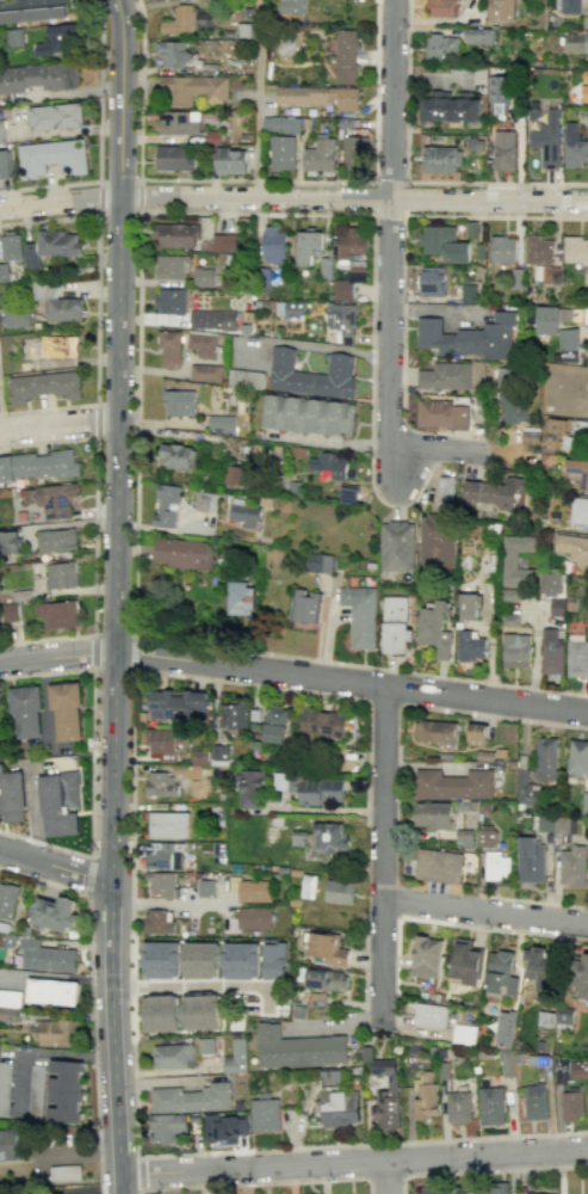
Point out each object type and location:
building: (291, 6)
building: (569, 6)
building: (441, 7)
building: (32, 10)
building: (501, 10)
building: (180, 20)
building: (478, 36)
building: (14, 37)
building: (60, 39)
building: (576, 41)
building: (439, 45)
building: (174, 54)
building: (346, 56)
building: (584, 75)
building: (37, 76)
building: (192, 90)
building: (584, 92)
building: (499, 94)
building: (318, 96)
road: (259, 99)
building: (448, 106)
building: (55, 116)
building: (178, 122)
building: (281, 123)
building: (1, 131)
building: (546, 139)
road: (99, 140)
building: (574, 146)
building: (503, 150)
building: (283, 152)
building: (353, 153)
building: (320, 154)
building: (51, 158)
building: (173, 158)
building: (439, 159)
building: (230, 160)
building: (5, 164)
road: (119, 180)
road: (255, 180)
road: (406, 181)
road: (140, 196)
road: (99, 198)
road: (355, 199)
road: (61, 202)
road: (117, 214)
road: (403, 215)
road: (402, 220)
building: (175, 235)
building: (435, 238)
building: (58, 242)
building: (224, 242)
building: (273, 245)
building: (10, 246)
building: (308, 246)
building: (502, 248)
building: (575, 250)
building: (456, 252)
building: (30, 254)
building: (541, 256)
building: (351, 259)
building: (172, 266)
building: (4, 272)
building: (203, 276)
building: (431, 281)
road: (391, 290)
building: (171, 301)
building: (56, 302)
road: (97, 307)
building: (289, 308)
building: (17, 318)
building: (212, 319)
building: (341, 321)
building: (556, 325)
building: (469, 337)
building: (202, 344)
building: (60, 346)
building: (169, 349)
building: (204, 373)
building: (311, 374)
building: (444, 376)
building: (245, 378)
building: (43, 386)
road: (370, 398)
building: (509, 398)
building: (178, 402)
building: (433, 412)
building: (308, 414)
building: (460, 417)
road: (95, 421)
building: (221, 423)
road: (60, 425)
road: (119, 441)
building: (174, 455)
building: (44, 464)
building: (329, 464)
building: (5, 468)
building: (577, 472)
building: (233, 474)
building: (493, 493)
building: (50, 499)
building: (205, 501)
building: (166, 505)
building: (245, 512)
building: (578, 512)
road: (93, 535)
road: (132, 537)
building: (55, 540)
building: (435, 541)
building: (8, 542)
building: (396, 546)
building: (574, 549)
building: (181, 553)
building: (509, 559)
building: (318, 562)
building: (60, 576)
building: (550, 581)
building: (19, 595)
building: (509, 595)
building: (239, 597)
building: (469, 604)
building: (305, 605)
building: (8, 611)
building: (56, 614)
building: (359, 615)
building: (510, 618)
building: (395, 624)
building: (434, 627)
road: (112, 634)
building: (471, 645)
building: (515, 650)
road: (93, 651)
building: (551, 651)
road: (130, 652)
building: (577, 657)
road: (111, 669)
road: (293, 672)
road: (246, 684)
building: (177, 704)
building: (25, 710)
building: (66, 710)
building: (233, 714)
road: (507, 719)
building: (322, 721)
building: (274, 724)
building: (435, 732)
building: (476, 733)
building: (162, 739)
building: (219, 755)
building: (198, 757)
building: (577, 757)
building: (546, 758)
road: (91, 762)
building: (160, 783)
building: (453, 784)
building: (526, 787)
building: (249, 788)
building: (11, 795)
building: (58, 802)
building: (584, 802)
road: (329, 808)
building: (433, 814)
building: (167, 824)
building: (555, 824)
building: (329, 837)
building: (485, 837)
road: (379, 849)
building: (160, 855)
building: (530, 860)
road: (55, 866)
building: (438, 866)
building: (497, 866)
building: (572, 866)
road: (87, 874)
building: (160, 884)
building: (204, 886)
building: (307, 886)
building: (252, 890)
building: (338, 891)
building: (7, 900)
road: (533, 900)
road: (169, 903)
building: (56, 913)
road: (130, 913)
road: (483, 913)
building: (252, 917)
building: (156, 921)
road: (520, 933)
building: (326, 949)
building: (426, 956)
building: (60, 958)
building: (272, 960)
building: (161, 961)
building: (199, 961)
building: (464, 961)
building: (239, 962)
building: (537, 967)
building: (500, 973)
building: (581, 974)
road: (191, 986)
building: (52, 992)
building: (11, 998)
road: (91, 999)
building: (199, 1014)
building: (160, 1015)
building: (431, 1015)
building: (545, 1018)
building: (563, 1018)
building: (505, 1028)
building: (58, 1033)
building: (463, 1033)
road: (113, 1038)
building: (204, 1048)
building: (297, 1050)
building: (365, 1055)
building: (172, 1058)
building: (235, 1059)
building: (5, 1087)
building: (64, 1090)
building: (35, 1093)
building: (388, 1095)
building: (427, 1096)
building: (190, 1100)
building: (536, 1101)
building: (321, 1102)
building: (493, 1106)
building: (572, 1106)
building: (459, 1107)
building: (340, 1108)
building: (265, 1114)
building: (166, 1131)
building: (223, 1131)
building: (10, 1144)
road: (363, 1144)
road: (79, 1155)
road: (354, 1164)
building: (63, 1171)
road: (484, 1171)
road: (138, 1174)
road: (384, 1177)
road: (386, 1177)
road: (260, 1184)
building: (496, 1188)
road: (70, 1190)
building: (428, 1190)
building: (472, 1192)

